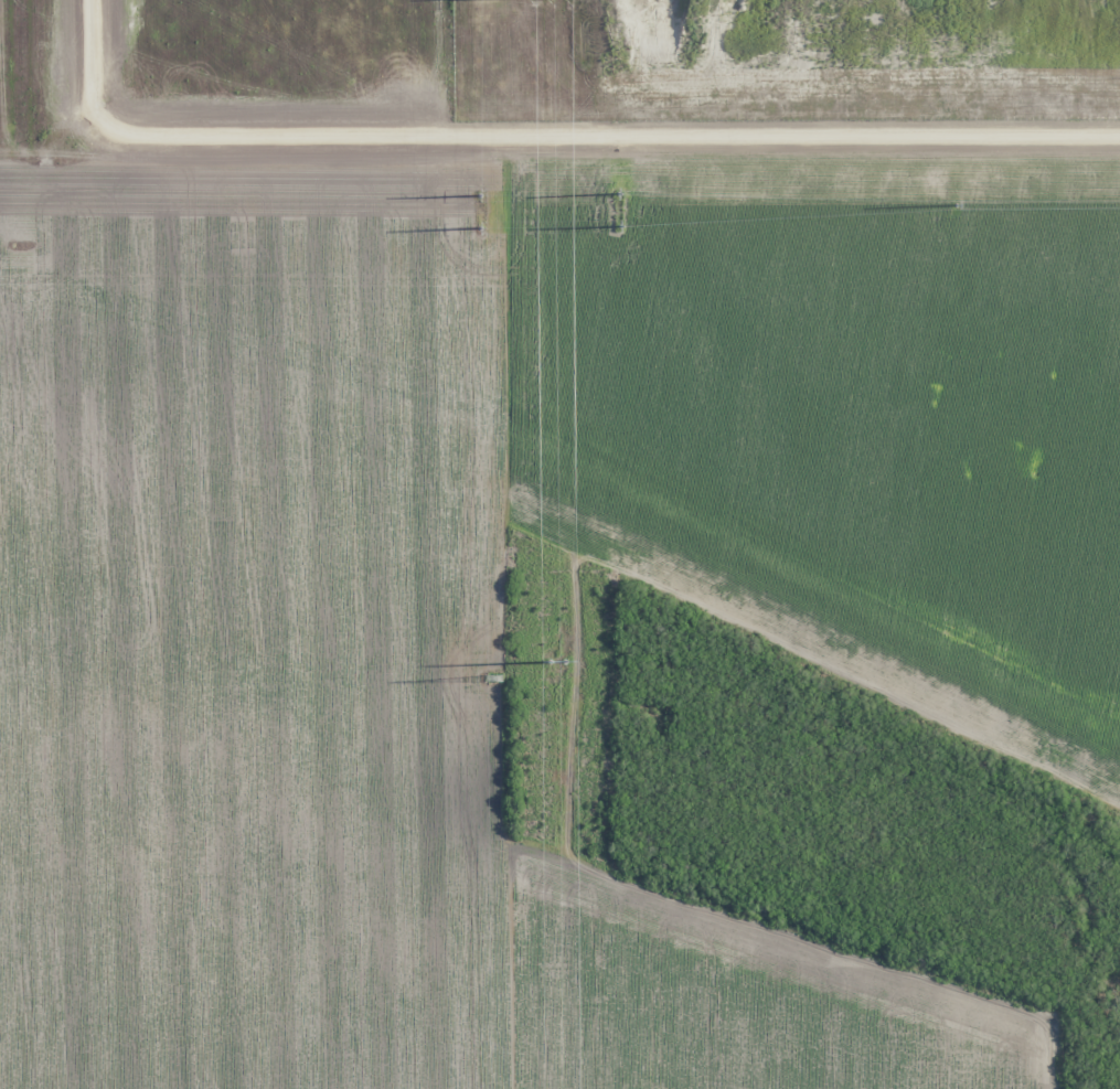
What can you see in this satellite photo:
crop: (520, 502)
power tower: (555, 673)
power tower: (492, 677)

